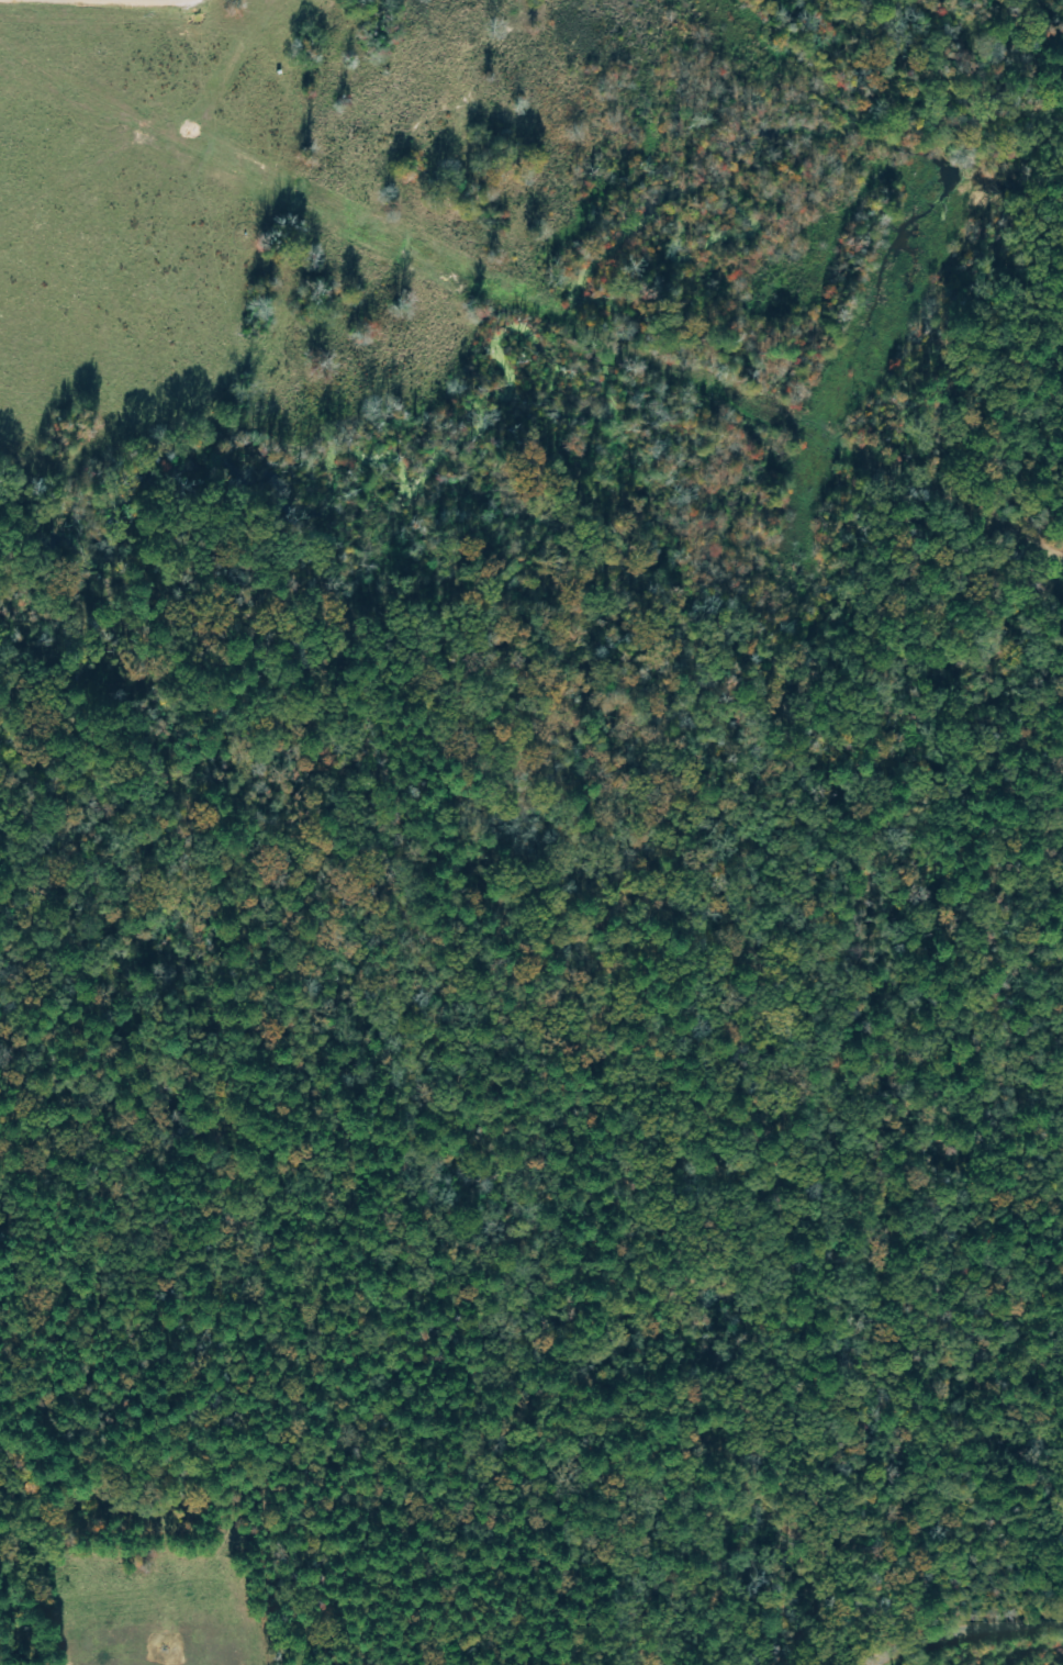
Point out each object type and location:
road: (965, 1638)

